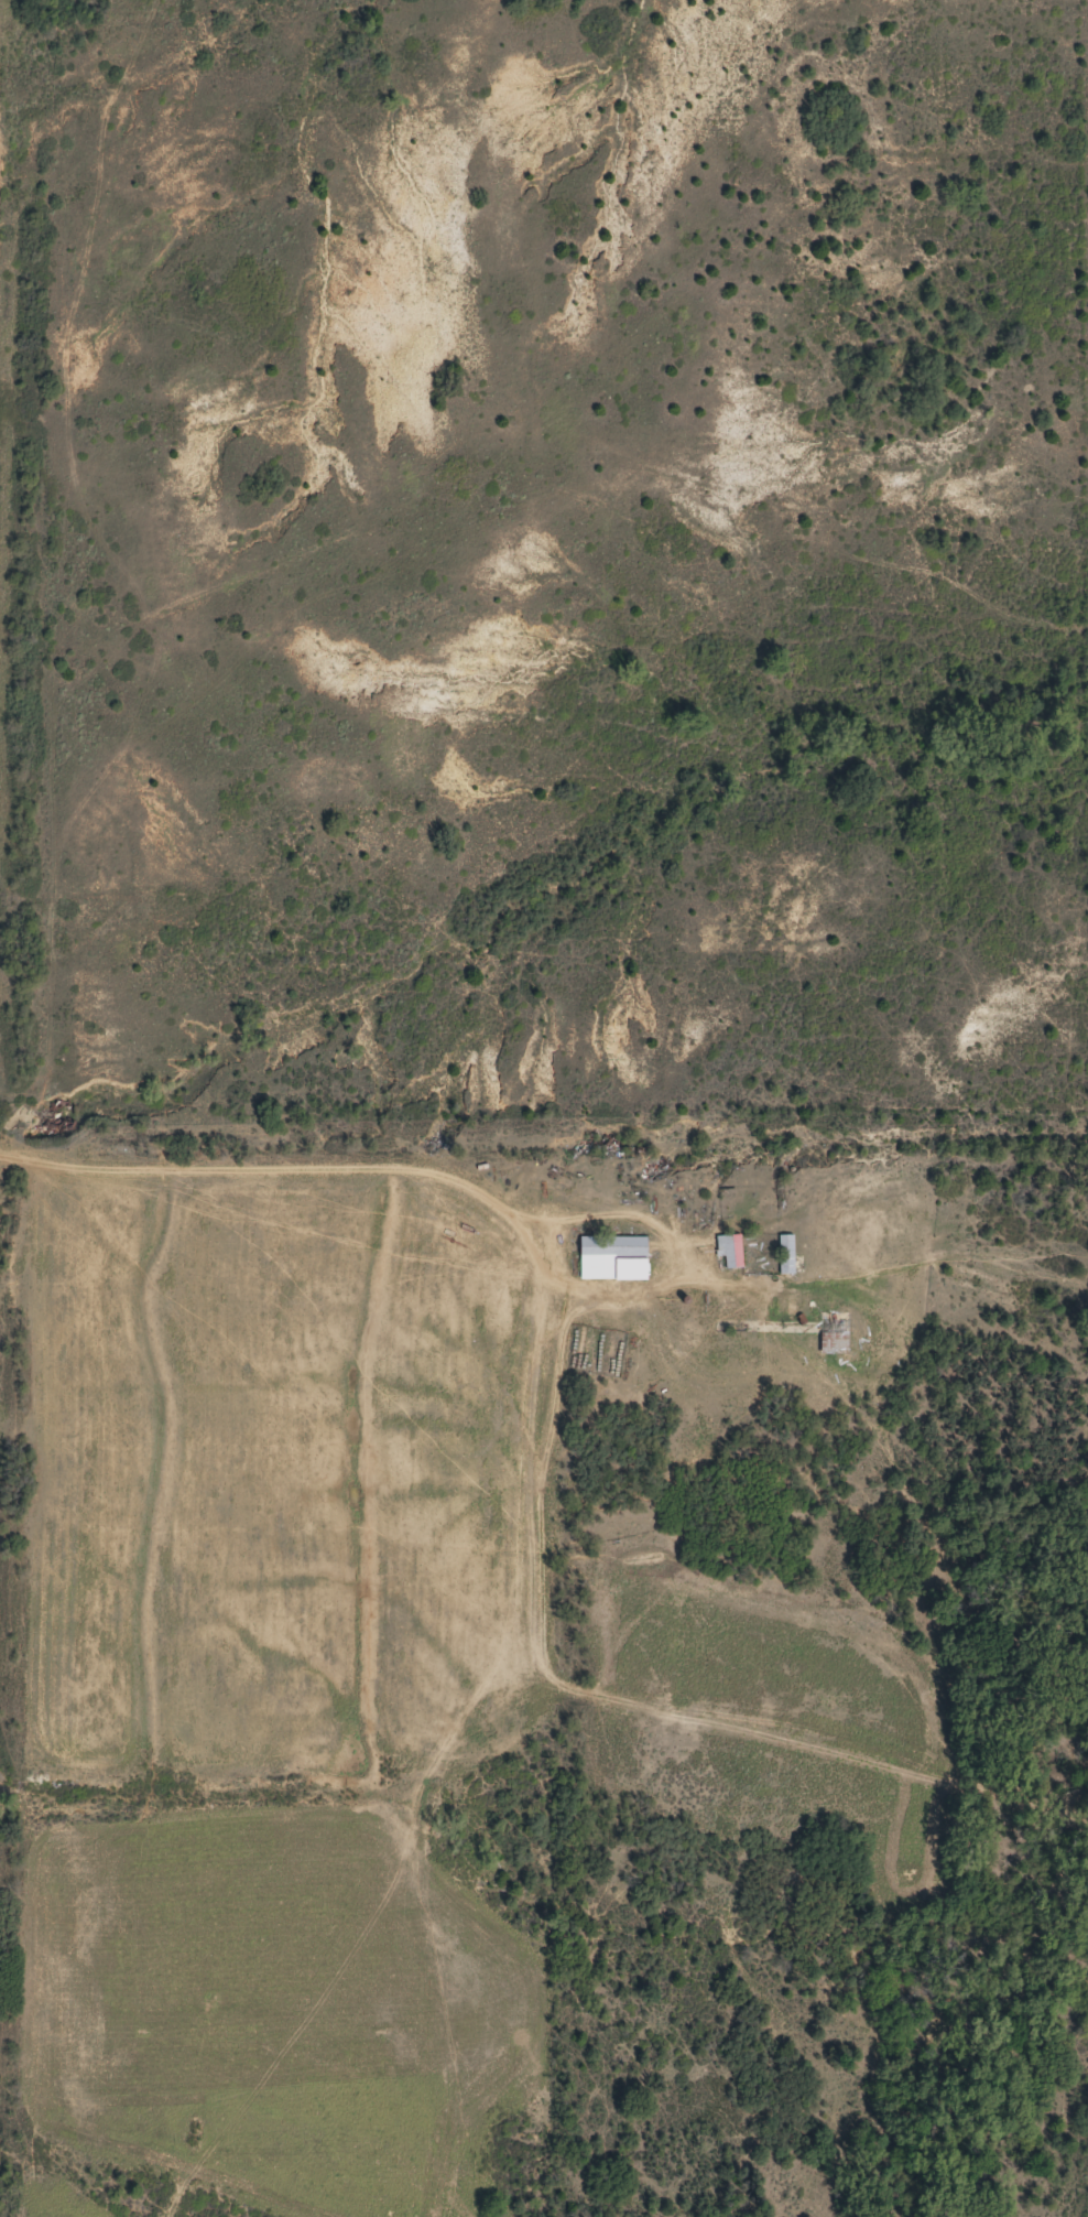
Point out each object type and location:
building: (728, 1247)
building: (606, 1253)
building: (784, 1253)
building: (831, 1334)

